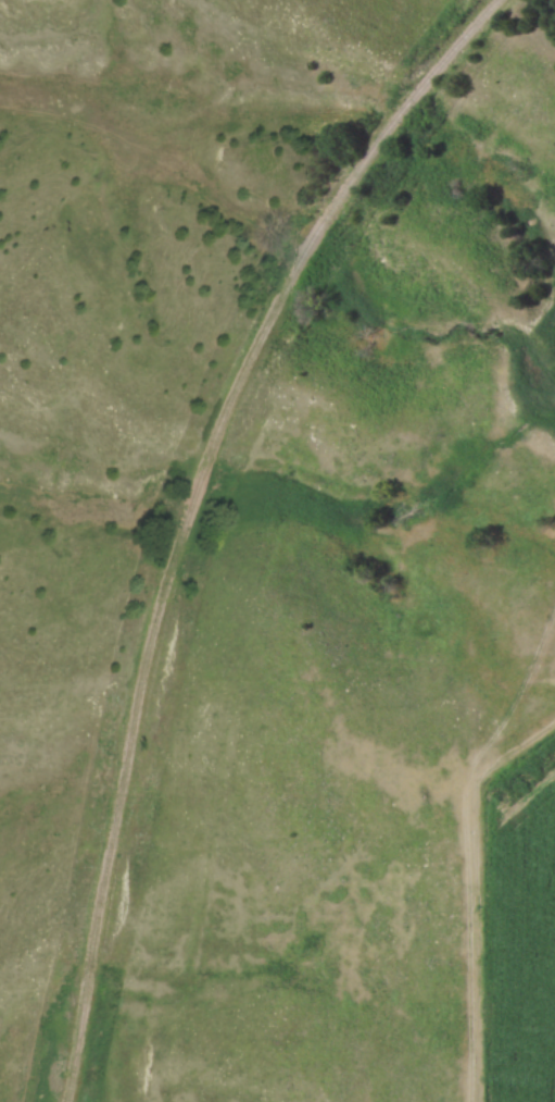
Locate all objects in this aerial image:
railway: (188, 510)
crop: (530, 940)

